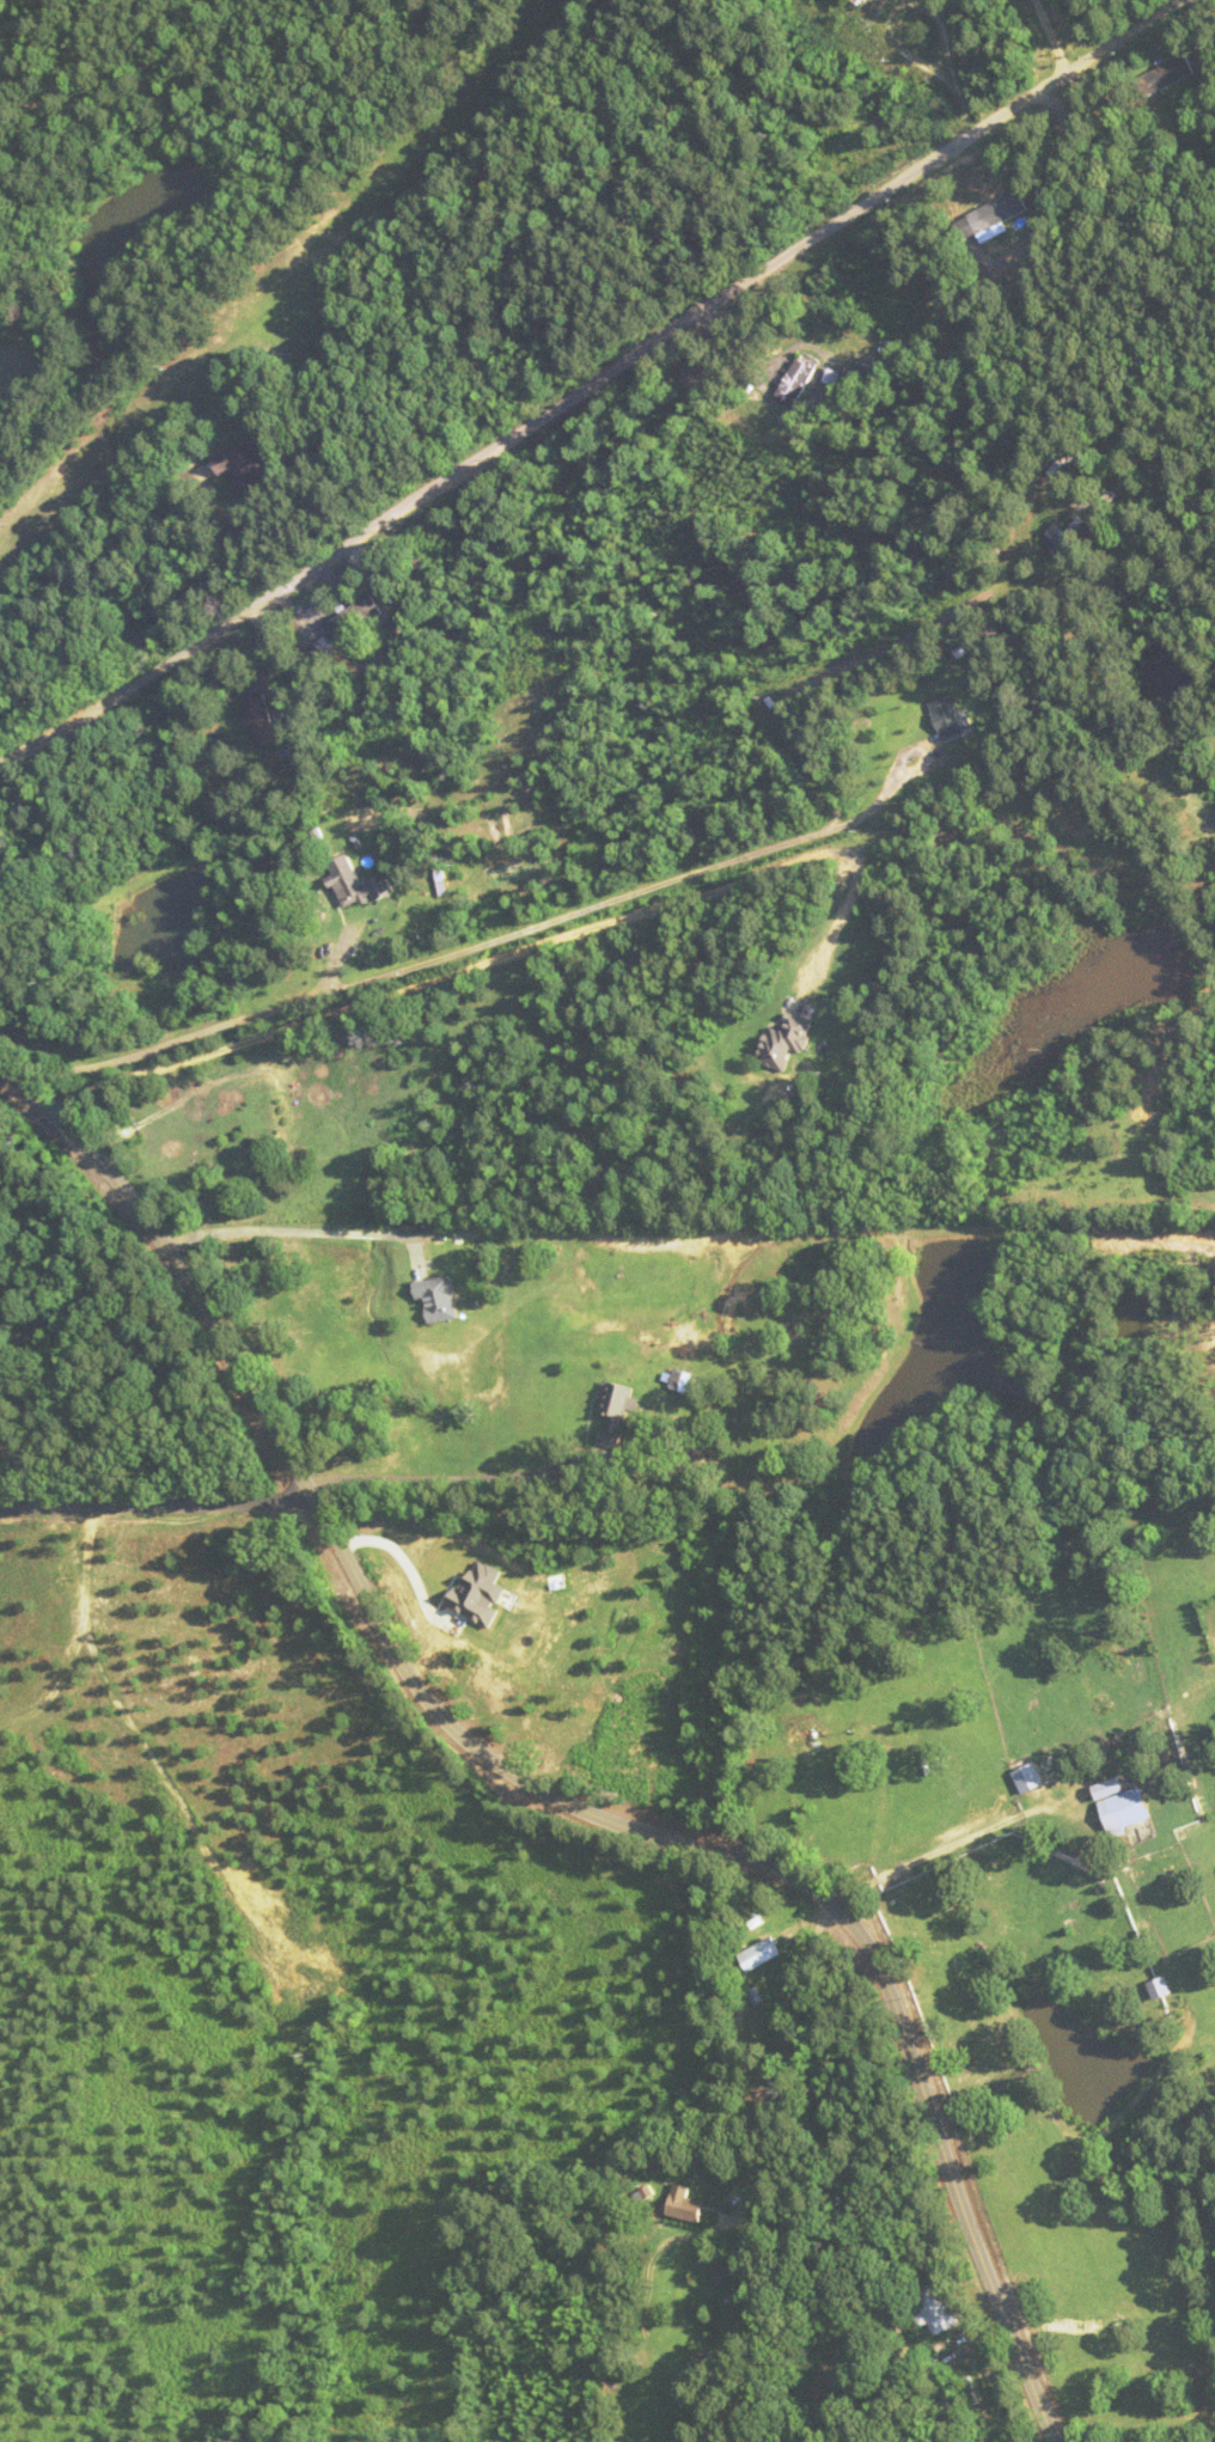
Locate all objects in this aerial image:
building: (872, 10)
building: (1168, 73)
building: (63, 86)
building: (991, 215)
building: (796, 379)
road: (593, 384)
building: (243, 465)
building: (1062, 532)
building: (355, 616)
building: (948, 716)
building: (261, 718)
building: (356, 885)
road: (456, 951)
building: (784, 1039)
building: (438, 1298)
building: (613, 1409)
road: (155, 1506)
building: (1105, 1703)
building: (1028, 1777)
road: (532, 1785)
building: (1121, 1805)
building: (758, 1953)
building: (1160, 1986)
road: (789, 2051)
building: (684, 2204)
building: (727, 2275)
building: (935, 2308)
building: (951, 2407)

